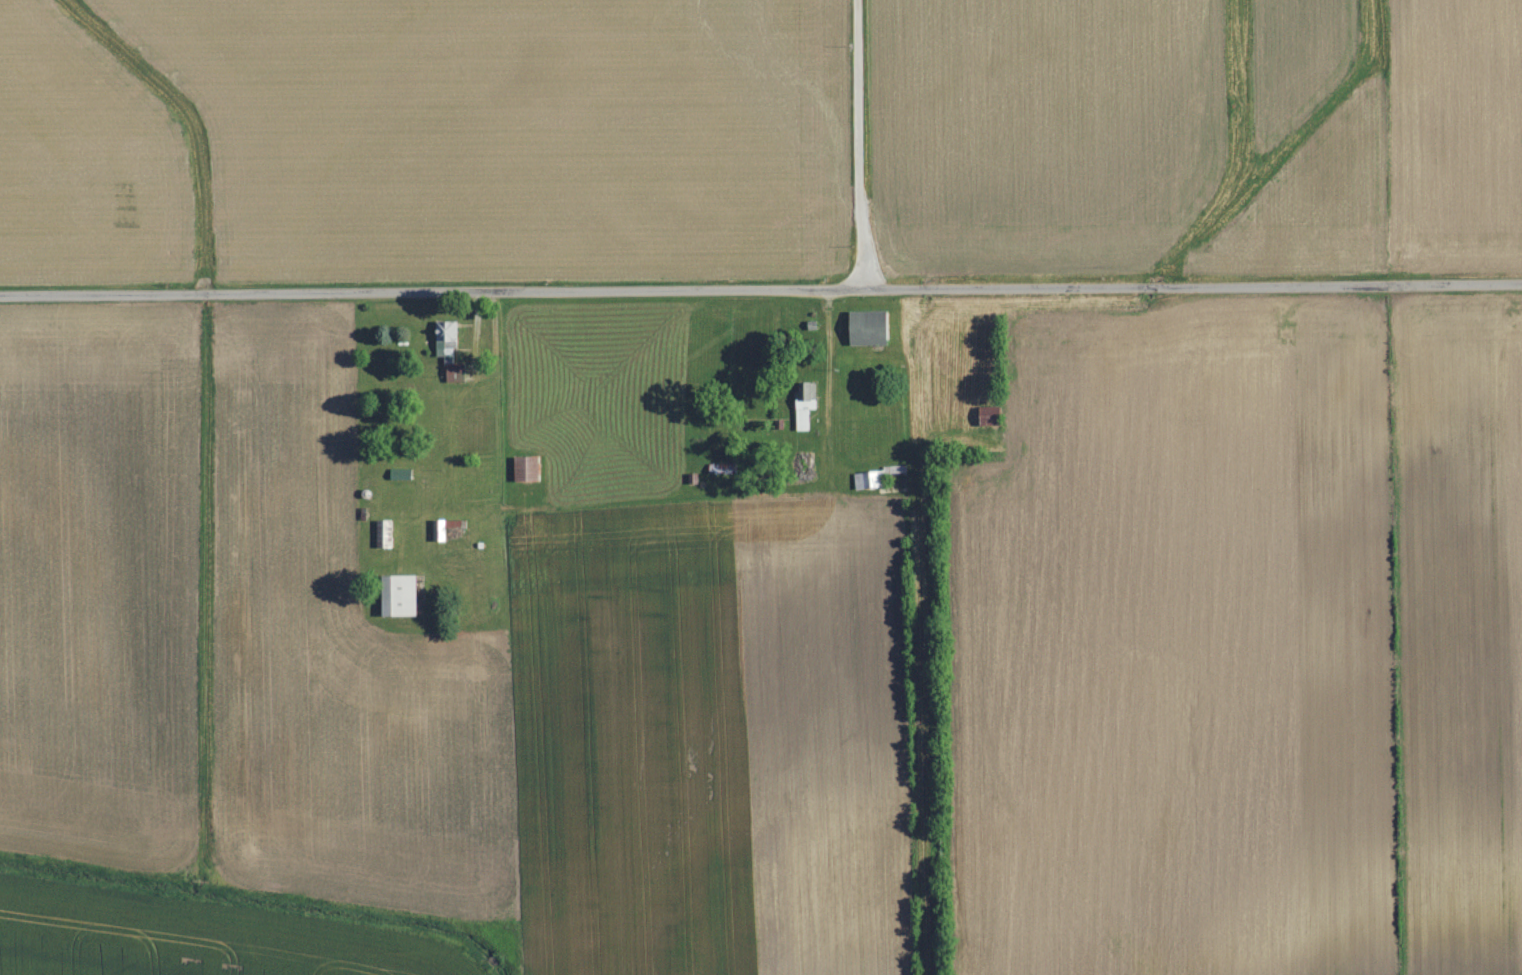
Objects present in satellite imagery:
road: (862, 142)
road: (760, 285)
building: (870, 329)
building: (807, 407)
building: (990, 417)
building: (527, 470)
building: (868, 482)
building: (442, 532)
building: (400, 598)

